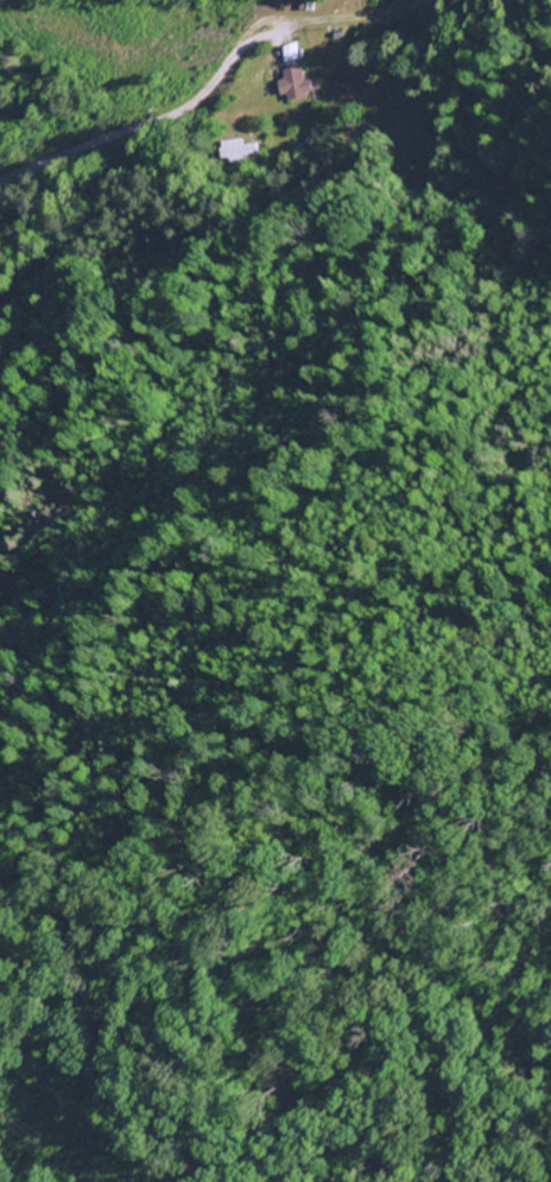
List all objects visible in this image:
building: (297, 5)
building: (305, 6)
road: (368, 17)
building: (337, 34)
building: (290, 52)
building: (294, 84)
road: (163, 120)
building: (317, 141)
building: (242, 152)
building: (303, 153)

